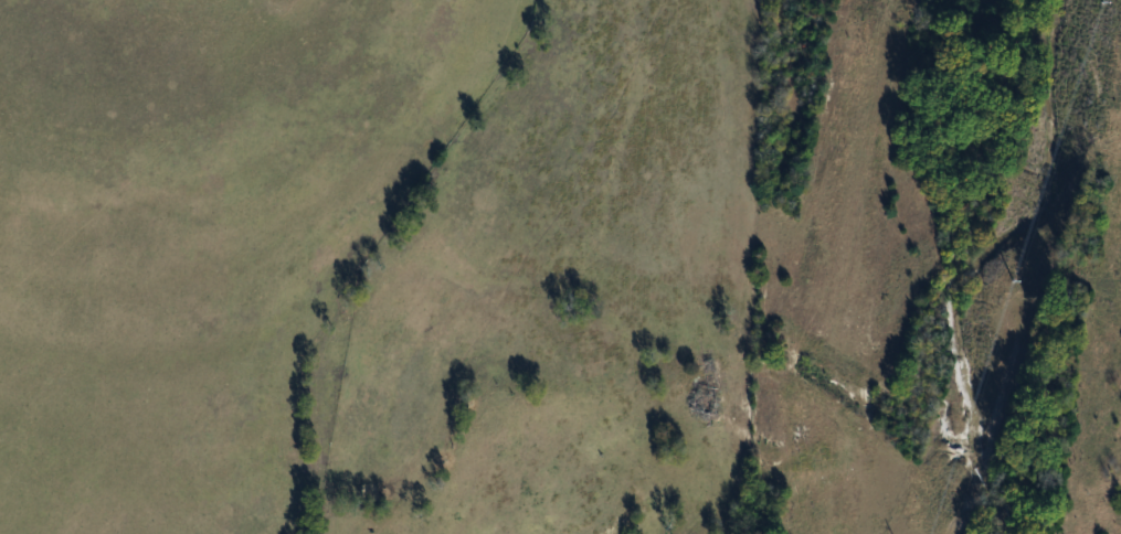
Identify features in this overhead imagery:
power tower: (1107, 13)
power tower: (1018, 289)

